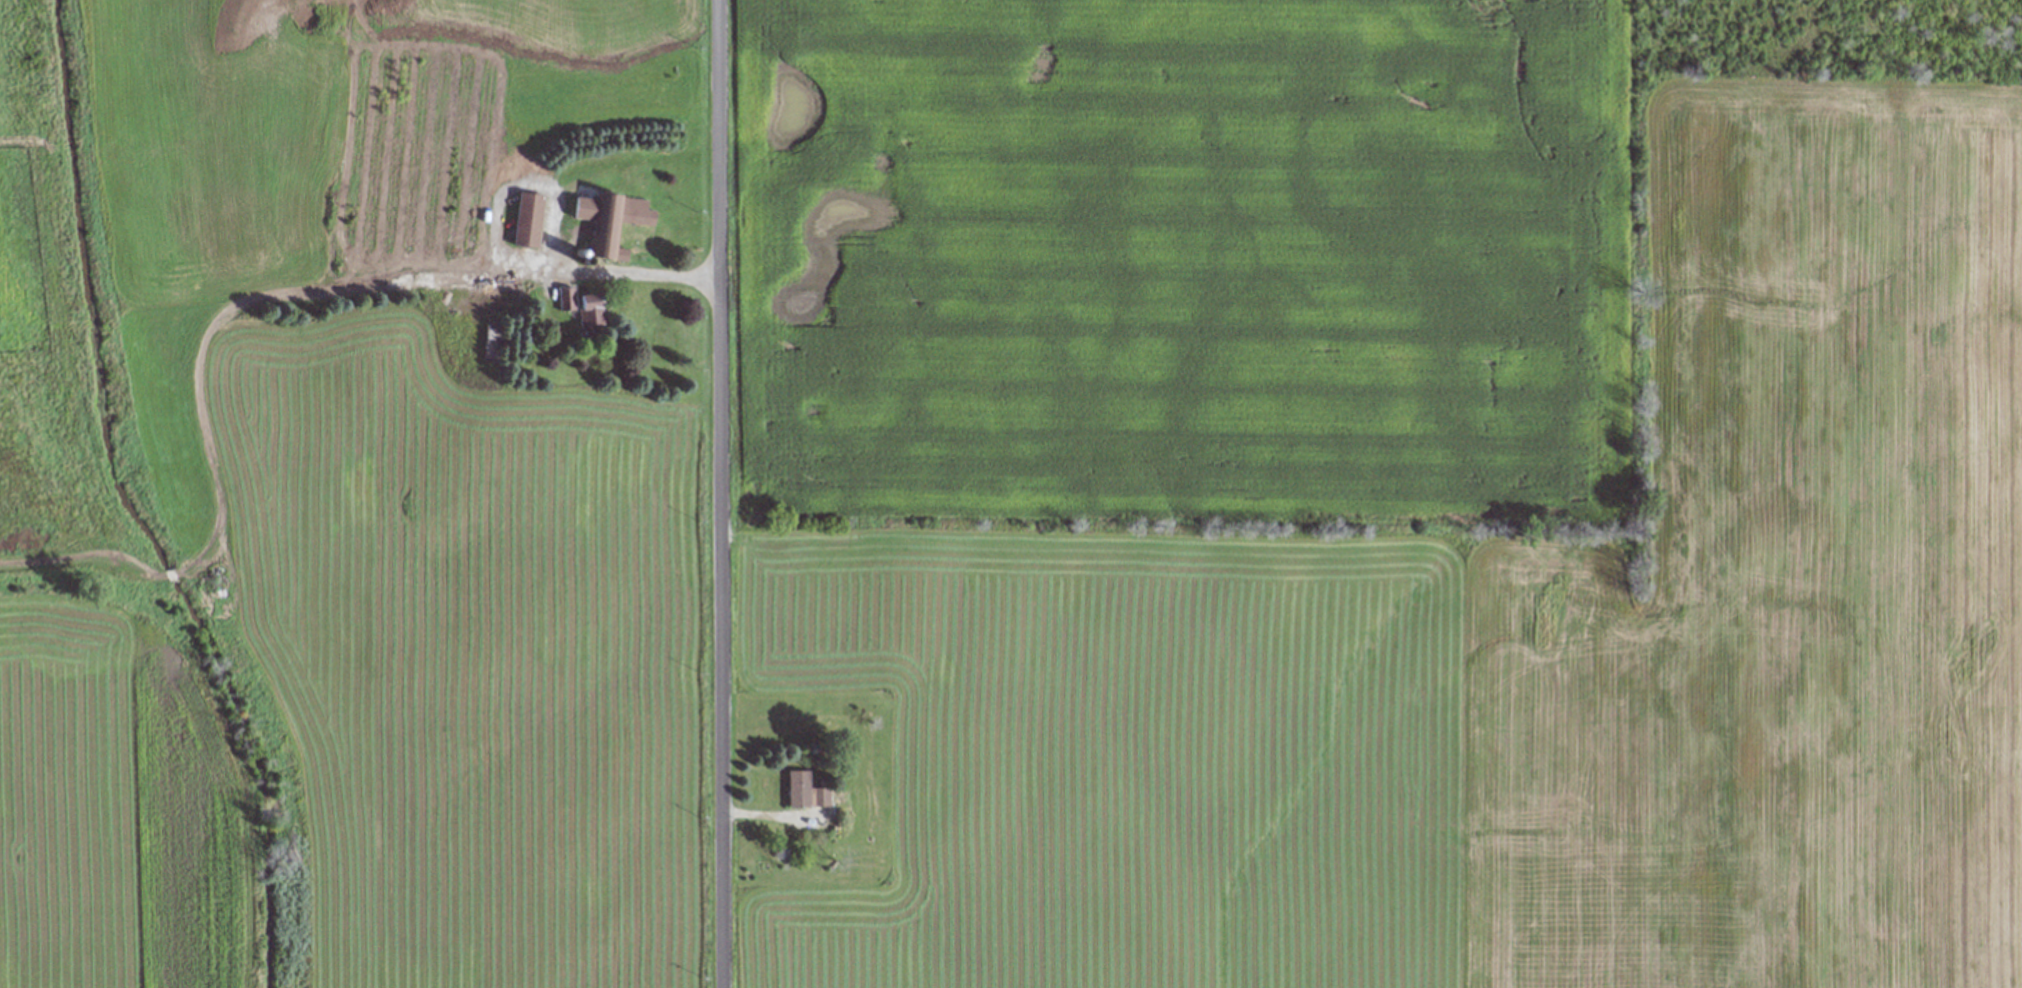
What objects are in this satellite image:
building: (525, 219)
building: (608, 220)
road: (614, 270)
building: (584, 309)
road: (719, 493)
building: (801, 791)

